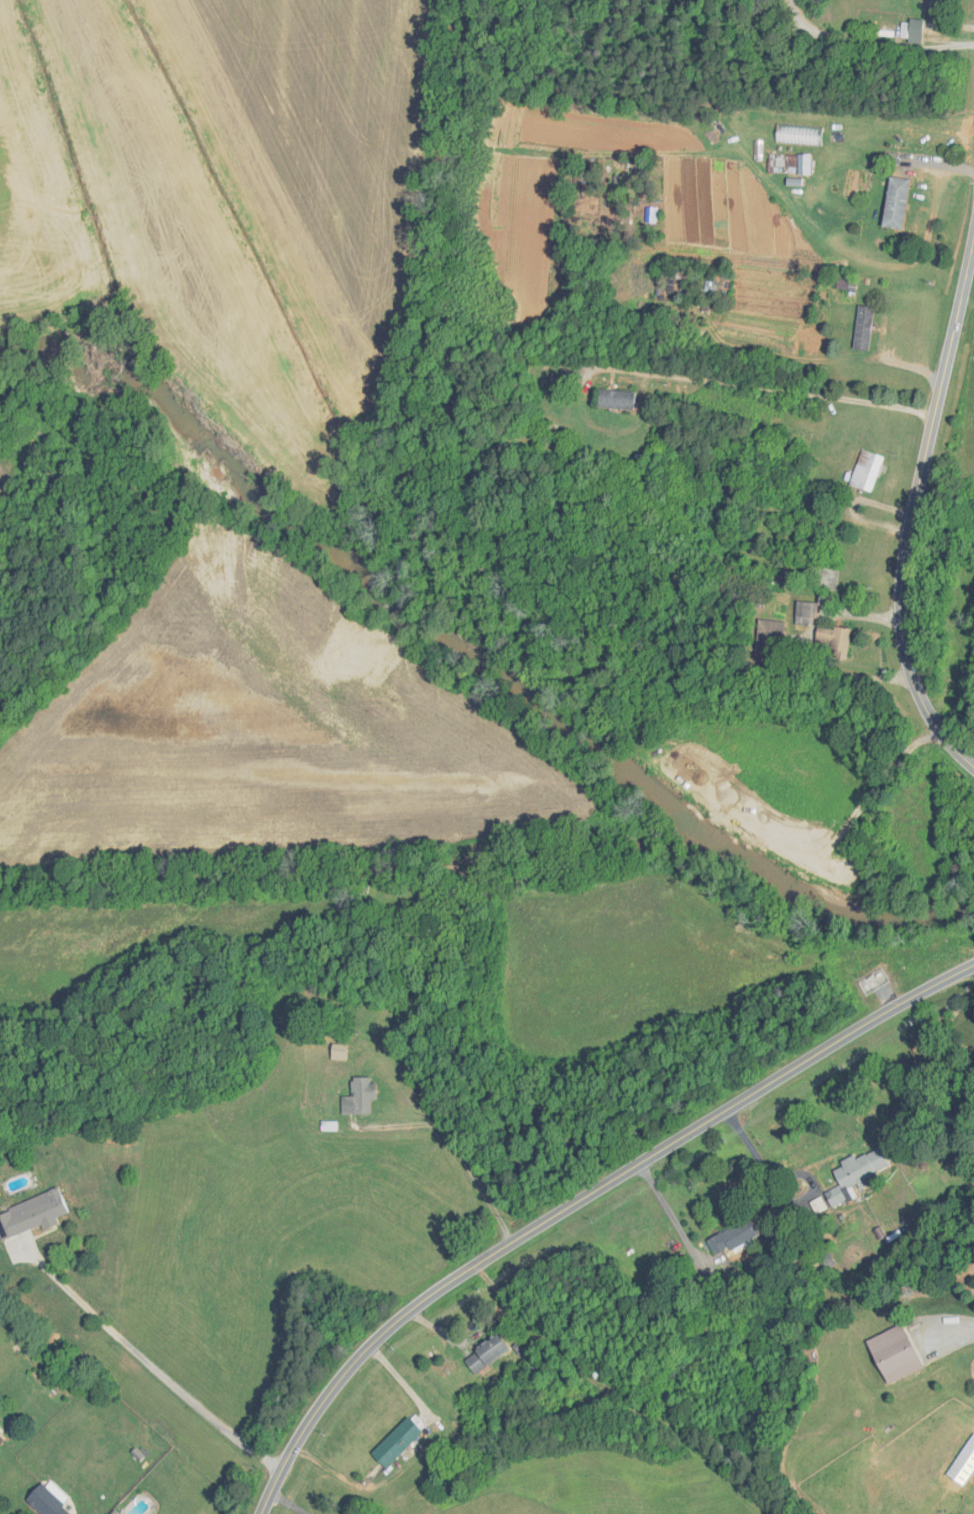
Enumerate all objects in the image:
building: (937, 4)
building: (911, 31)
road: (873, 43)
building: (781, 164)
building: (894, 203)
building: (862, 328)
road: (774, 387)
building: (615, 399)
building: (865, 471)
road: (914, 509)
building: (801, 615)
building: (765, 640)
building: (830, 642)
building: (411, 931)
building: (337, 1052)
building: (357, 1097)
building: (855, 1172)
road: (581, 1200)
building: (41, 1213)
building: (6, 1225)
building: (731, 1237)
building: (483, 1353)
building: (893, 1353)
road: (157, 1367)
building: (0, 1442)
building: (394, 1442)
building: (44, 1502)

